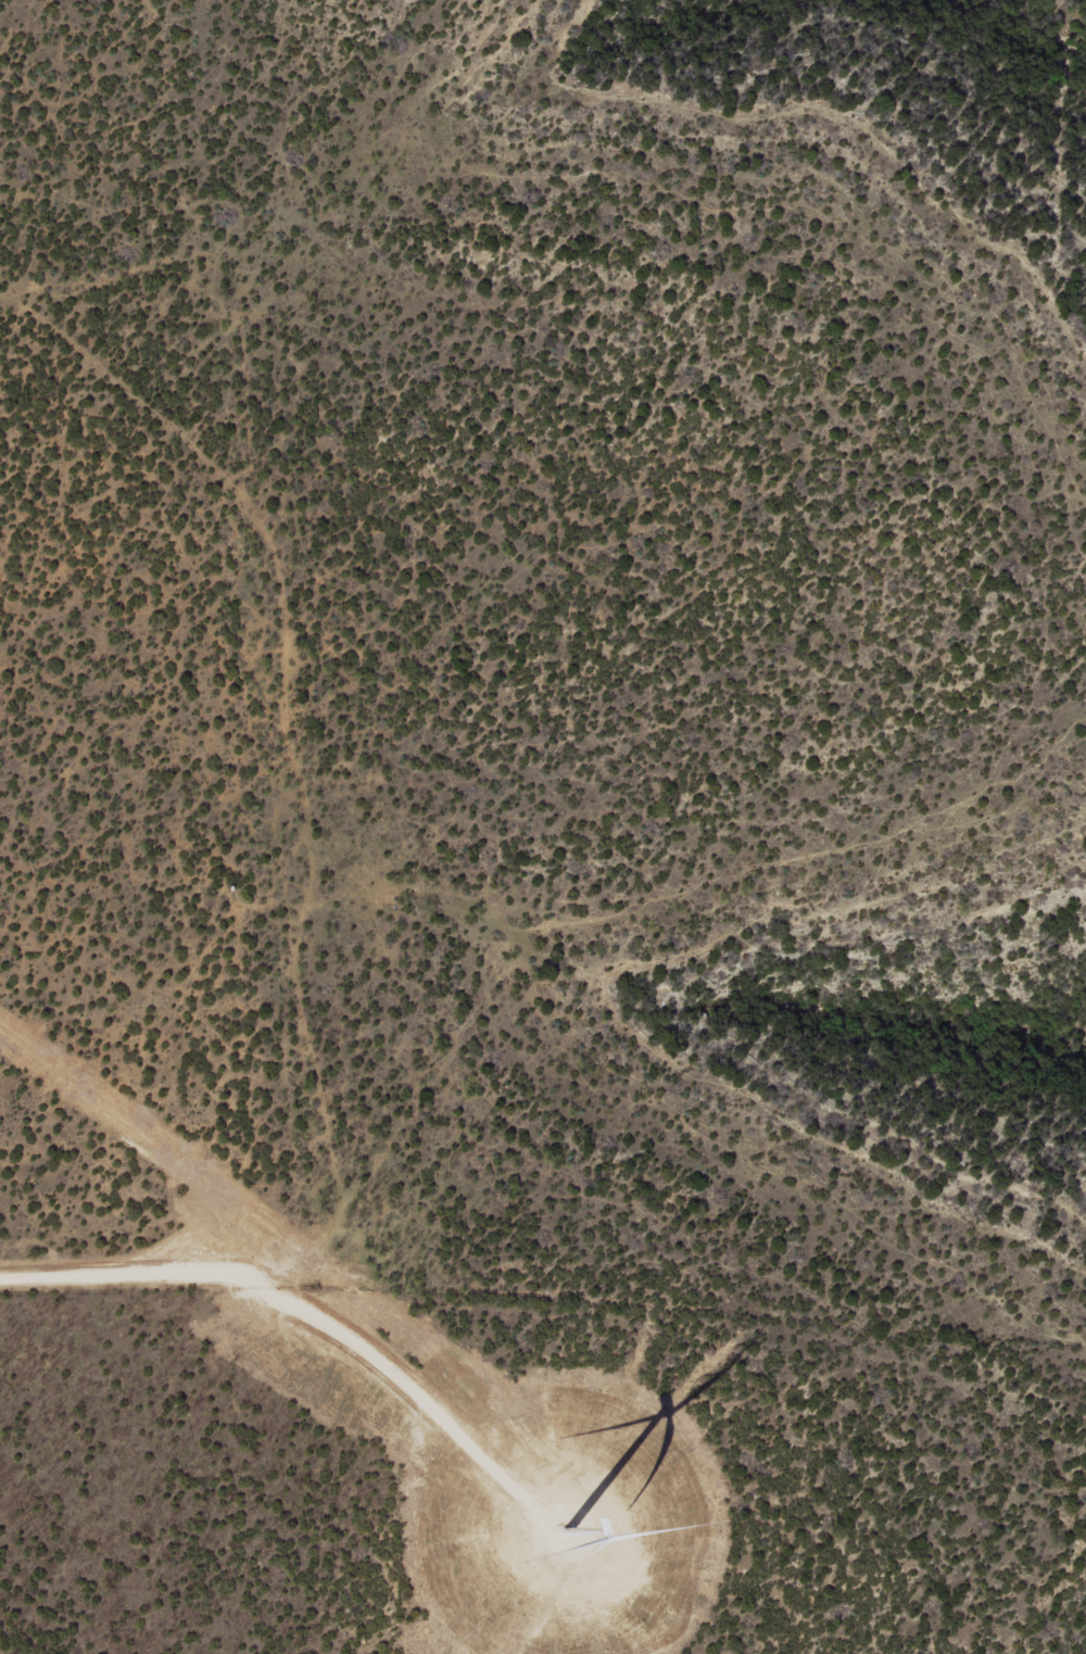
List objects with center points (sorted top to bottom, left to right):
wind turbine: (579, 1525)

